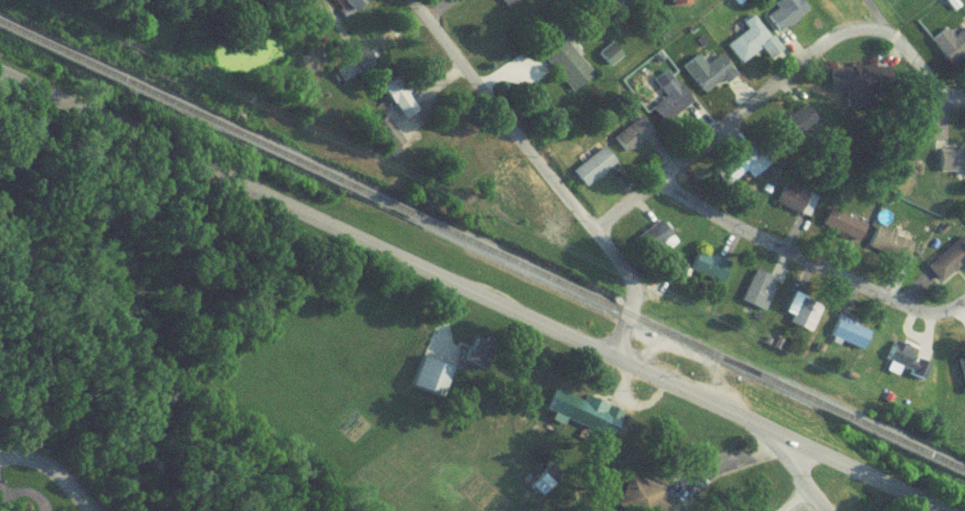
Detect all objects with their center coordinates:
building: (821, 3)
building: (505, 5)
building: (668, 5)
road: (328, 12)
building: (784, 19)
building: (746, 45)
building: (950, 52)
building: (565, 71)
road: (509, 72)
building: (708, 78)
road: (441, 83)
building: (859, 83)
road: (774, 84)
building: (666, 108)
building: (796, 127)
building: (630, 141)
road: (662, 156)
building: (949, 167)
building: (737, 172)
road: (544, 173)
building: (590, 173)
road: (625, 189)
building: (793, 206)
road: (642, 210)
railway: (482, 250)
building: (886, 251)
road: (806, 263)
building: (947, 265)
road: (463, 292)
building: (756, 298)
road: (661, 302)
building: (801, 321)
building: (847, 339)
road: (649, 346)
road: (699, 366)
building: (904, 368)
building: (961, 377)
building: (426, 383)
road: (624, 387)
road: (49, 472)
road: (733, 476)
road: (801, 483)
road: (795, 502)
road: (913, 508)

